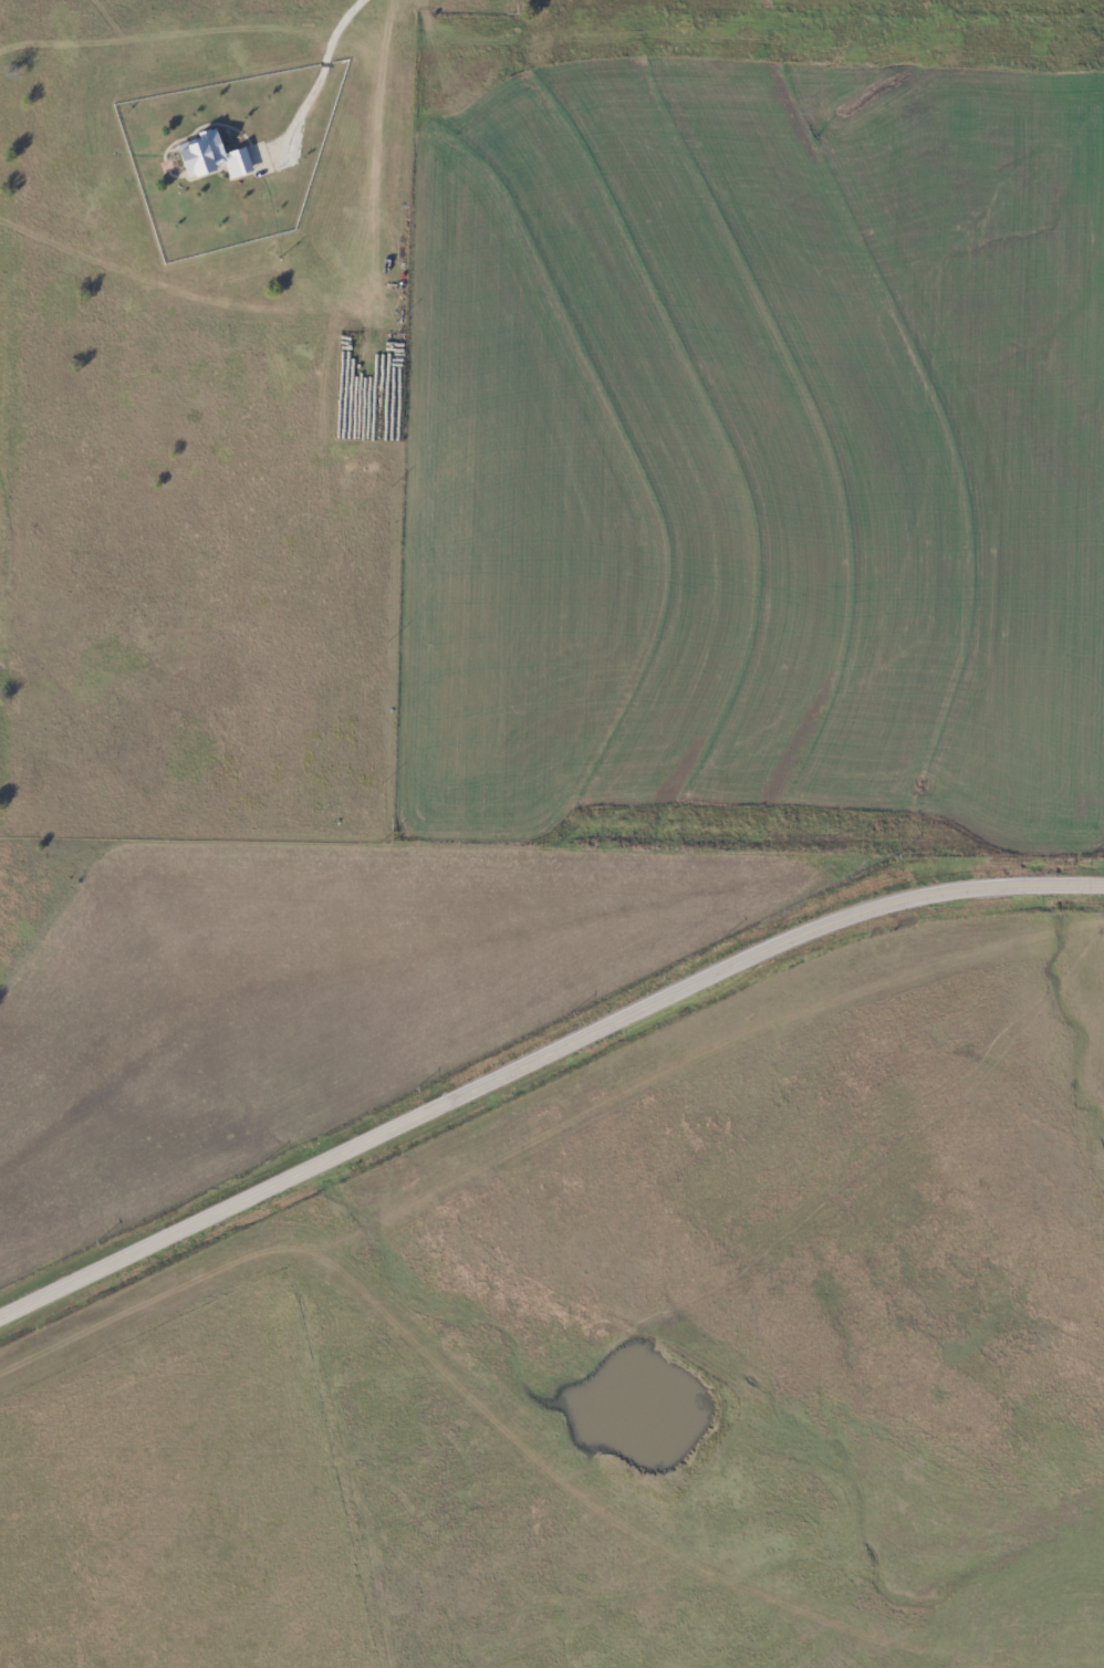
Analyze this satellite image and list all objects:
road: (315, 76)
road: (539, 1060)

